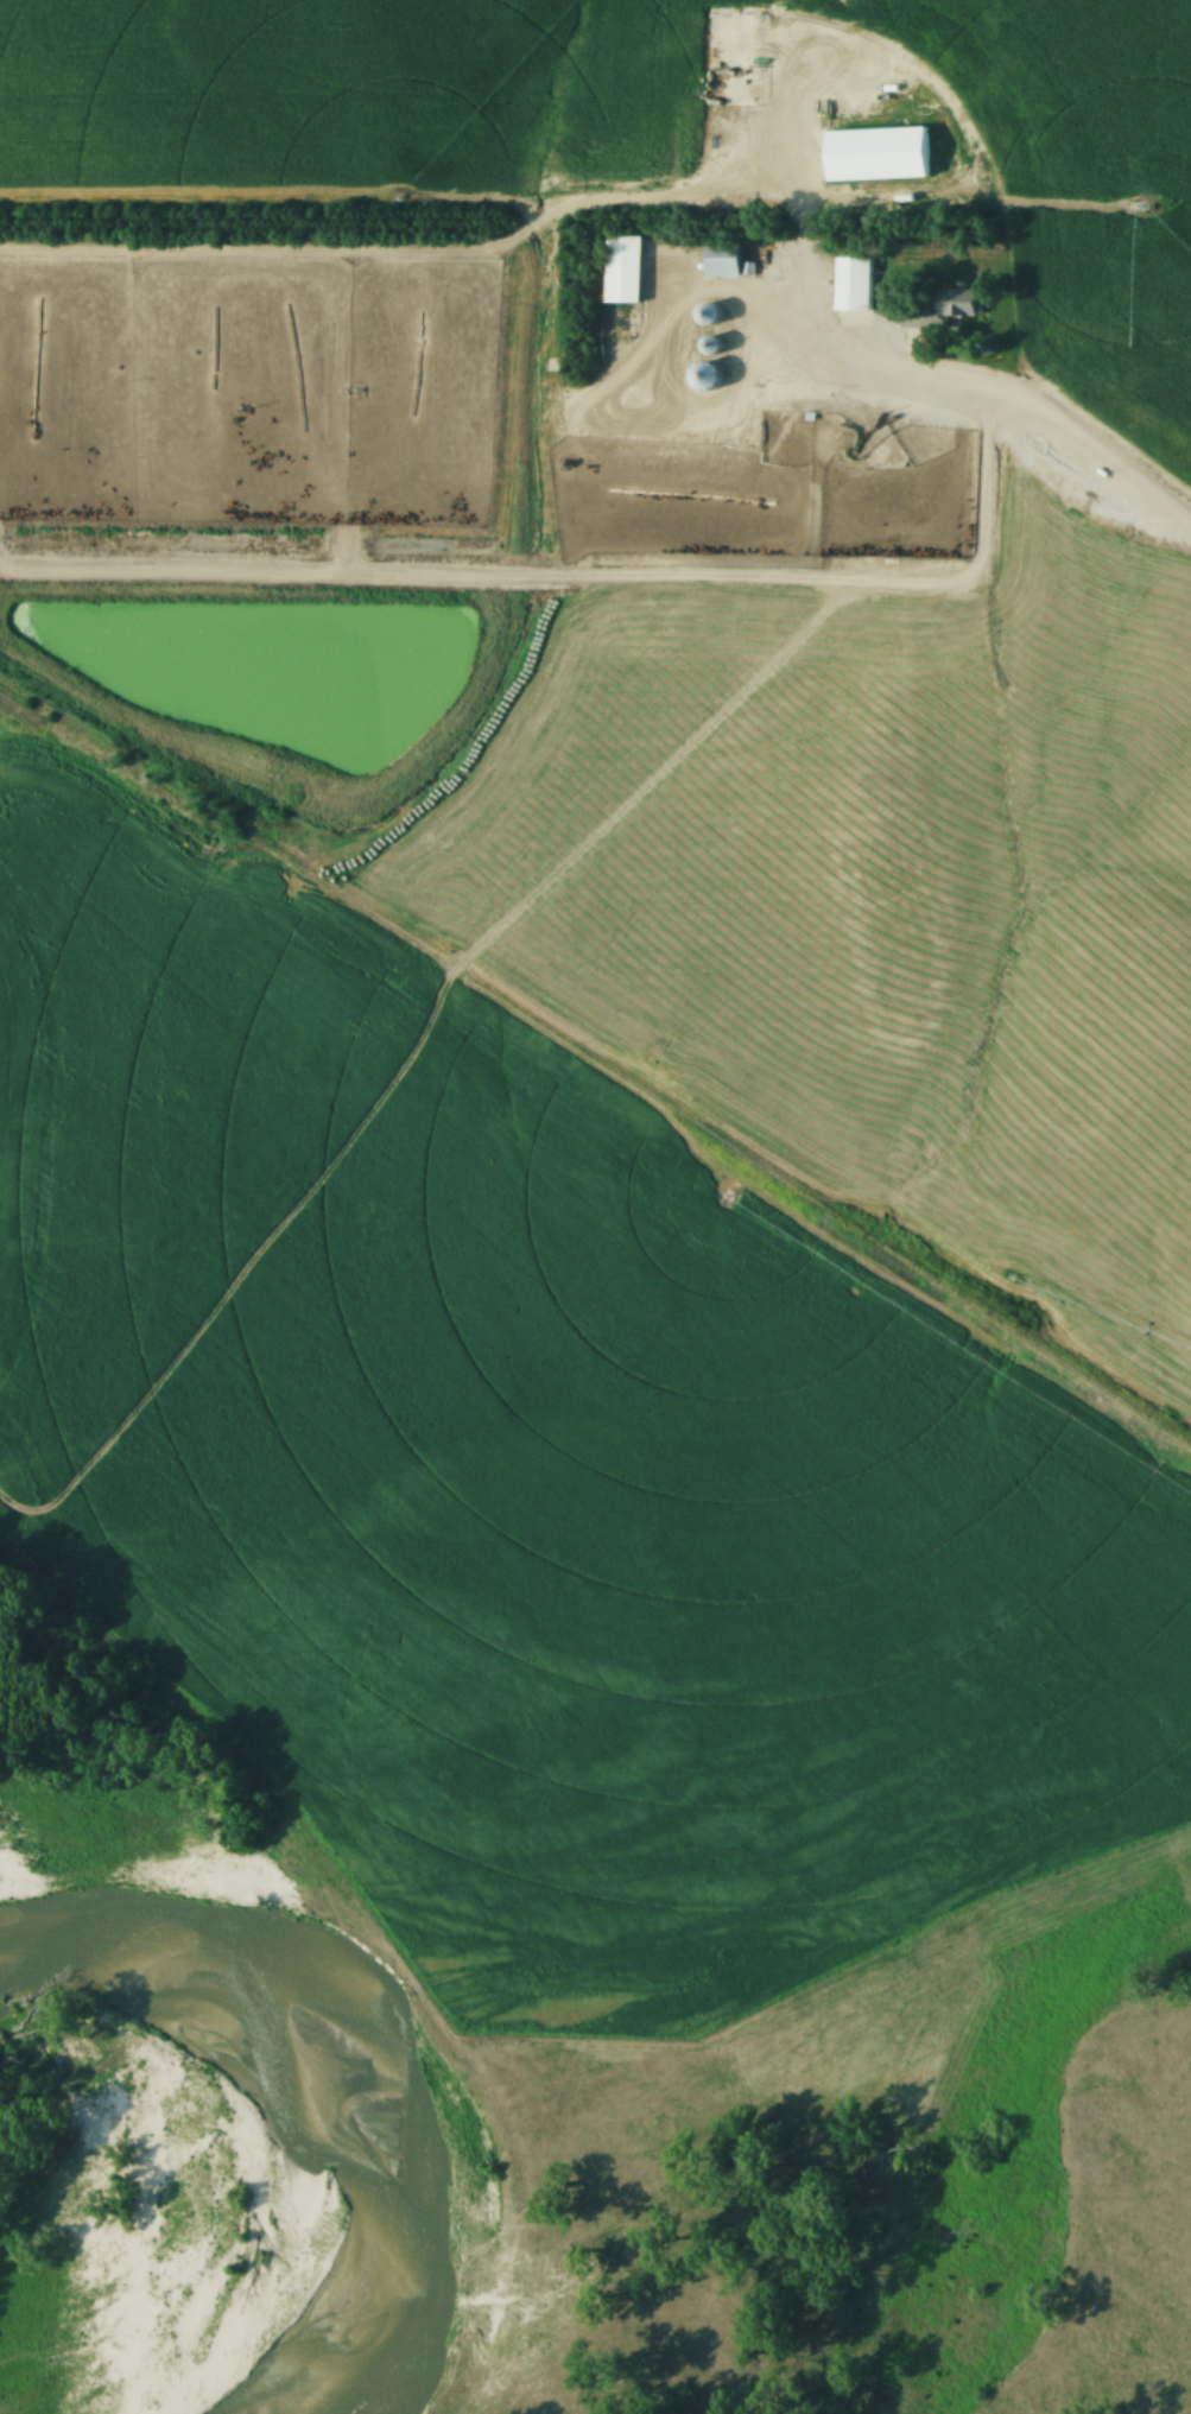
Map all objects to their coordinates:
building: (723, 260)
building: (623, 270)
building: (853, 284)
building: (939, 311)
building: (707, 375)
road: (995, 401)
building: (747, 427)
building: (1066, 458)
railway: (609, 1002)
river: (361, 2070)

